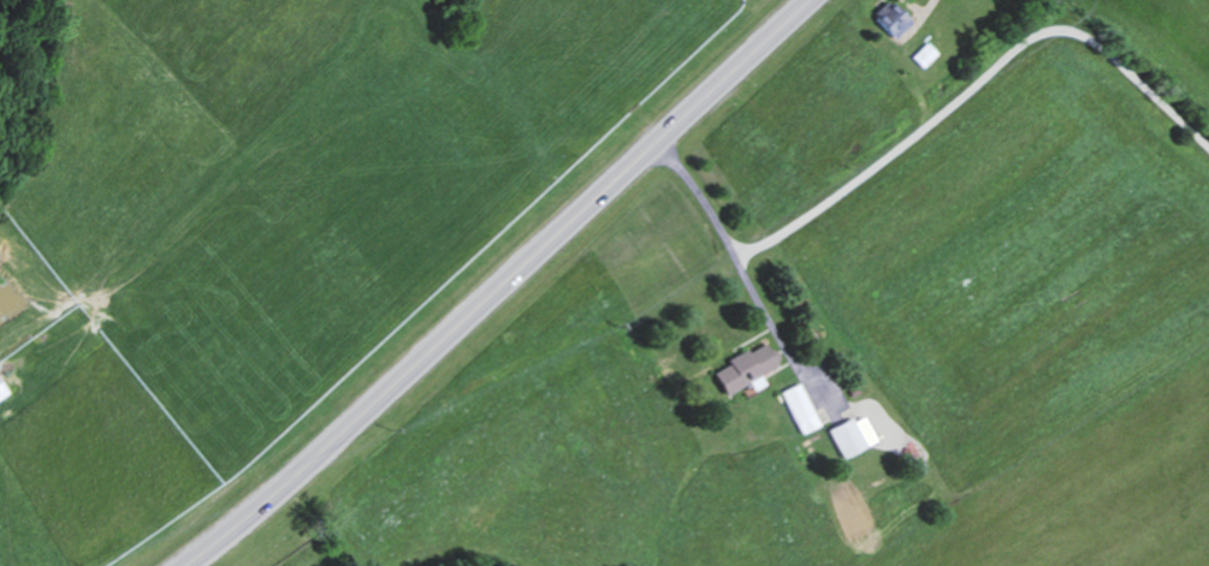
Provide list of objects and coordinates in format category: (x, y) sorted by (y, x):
building: (893, 19)
road: (503, 286)
building: (743, 369)
building: (1, 394)
building: (800, 409)
building: (852, 436)

